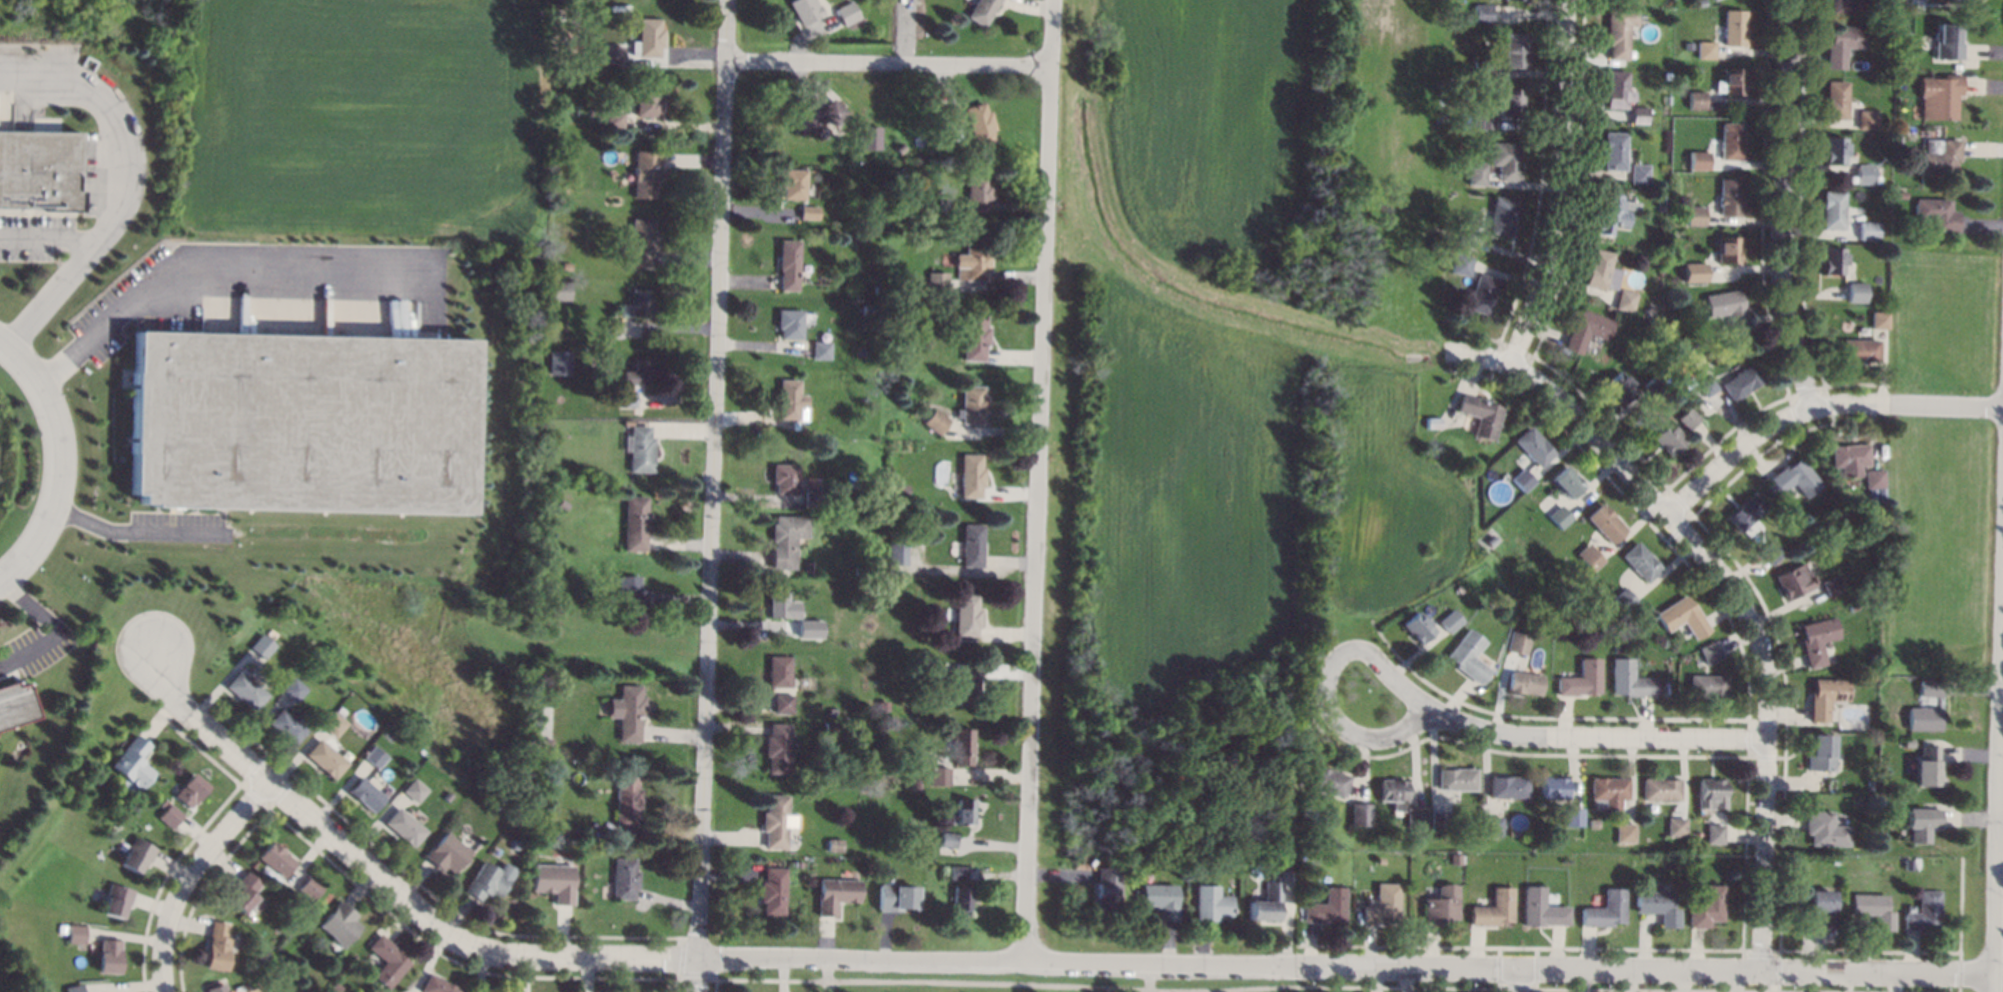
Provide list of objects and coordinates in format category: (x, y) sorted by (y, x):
building: (1526, 0)
building: (1712, 0)
building: (1947, 0)
building: (1842, 6)
building: (803, 9)
building: (981, 10)
building: (845, 12)
building: (1482, 12)
building: (1467, 17)
building: (1734, 27)
building: (1618, 30)
building: (648, 37)
building: (1947, 41)
building: (1842, 43)
building: (570, 45)
building: (1512, 49)
building: (1706, 49)
building: (1888, 51)
building: (609, 56)
road: (889, 63)
building: (1481, 68)
building: (1901, 78)
building: (1733, 80)
building: (1615, 88)
building: (1938, 95)
building: (1696, 99)
building: (1836, 99)
building: (647, 101)
building: (1511, 101)
building: (591, 110)
building: (951, 114)
building: (1638, 114)
building: (813, 115)
building: (612, 118)
building: (1866, 119)
building: (1485, 120)
road: (113, 121)
crop: (360, 121)
building: (979, 123)
building: (868, 137)
building: (1897, 137)
building: (1731, 141)
building: (898, 147)
building: (1834, 149)
building: (1613, 150)
building: (1939, 158)
building: (1698, 159)
building: (1508, 161)
building: (892, 166)
building: (38, 171)
building: (644, 172)
building: (1476, 173)
building: (1638, 173)
building: (1864, 173)
building: (792, 183)
road: (1553, 184)
building: (976, 192)
building: (1730, 197)
building: (1629, 198)
road: (1794, 204)
building: (879, 208)
building: (1832, 209)
building: (808, 212)
building: (1609, 213)
building: (1936, 214)
building: (1501, 215)
building: (1694, 215)
building: (1868, 230)
building: (1465, 234)
building: (642, 242)
building: (1728, 249)
road: (76, 257)
building: (1832, 260)
building: (971, 261)
building: (788, 263)
building: (1461, 263)
road: (212, 264)
building: (567, 265)
building: (1600, 269)
building: (1697, 272)
building: (937, 288)
building: (877, 289)
building: (561, 290)
building: (1855, 291)
building: (1481, 293)
building: (1624, 299)
building: (1681, 299)
building: (640, 302)
building: (870, 309)
building: (1728, 309)
building: (1650, 310)
building: (1879, 319)
building: (789, 323)
building: (613, 327)
building: (1586, 328)
building: (825, 335)
building: (974, 335)
building: (908, 347)
building: (819, 349)
building: (1859, 349)
building: (555, 352)
building: (1568, 353)
building: (639, 372)
building: (1741, 381)
building: (1688, 382)
building: (1705, 384)
building: (1655, 385)
building: (1620, 387)
building: (626, 398)
crop: (1231, 400)
building: (790, 402)
building: (972, 404)
road: (1816, 407)
road: (1574, 409)
building: (1479, 415)
building: (1687, 418)
building: (935, 421)
building: (301, 422)
building: (627, 422)
building: (1432, 422)
building: (1428, 436)
building: (1667, 438)
building: (1533, 445)
building: (639, 448)
building: (1849, 457)
road: (60, 461)
building: (971, 475)
building: (783, 477)
building: (1792, 478)
building: (1873, 478)
building: (1522, 479)
road: (1038, 480)
building: (1566, 481)
building: (853, 484)
building: (898, 490)
road: (711, 495)
building: (811, 496)
building: (562, 503)
building: (1745, 511)
building: (1559, 516)
building: (1605, 522)
building: (634, 523)
road: (129, 532)
building: (785, 539)
building: (1491, 540)
building: (971, 544)
building: (1771, 552)
building: (897, 553)
building: (1589, 556)
building: (1640, 561)
building: (579, 563)
building: (808, 567)
building: (862, 571)
building: (1795, 581)
building: (1832, 585)
building: (628, 593)
building: (1624, 598)
building: (781, 605)
building: (1854, 606)
building: (552, 610)
building: (966, 614)
building: (1682, 616)
building: (1449, 619)
road: (50, 627)
building: (803, 627)
building: (1417, 627)
building: (828, 630)
building: (1817, 639)
building: (1517, 642)
building: (260, 645)
building: (1617, 648)
building: (1710, 651)
building: (1467, 655)
building: (778, 671)
building: (301, 676)
building: (1869, 676)
building: (1629, 678)
building: (1580, 679)
road: (1329, 682)
building: (1523, 682)
building: (964, 683)
building: (1707, 685)
building: (1929, 688)
building: (292, 689)
building: (244, 690)
building: (1826, 696)
building: (781, 703)
building: (15, 704)
building: (831, 710)
building: (629, 712)
building: (1924, 718)
building: (331, 723)
building: (284, 725)
road: (1765, 725)
building: (828, 726)
building: (927, 726)
road: (1595, 737)
building: (1908, 742)
building: (542, 745)
building: (961, 745)
building: (776, 747)
building: (1820, 752)
building: (373, 756)
building: (323, 757)
building: (132, 762)
building: (1928, 766)
building: (941, 774)
building: (1455, 778)
building: (1328, 780)
building: (914, 783)
building: (1507, 786)
building: (1552, 786)
building: (1862, 786)
building: (1660, 788)
building: (413, 789)
building: (1711, 789)
building: (190, 790)
building: (1608, 790)
building: (1392, 792)
building: (364, 793)
building: (445, 796)
building: (626, 798)
building: (1856, 799)
building: (1880, 803)
building: (495, 804)
building: (1296, 805)
building: (963, 810)
building: (1360, 813)
building: (169, 815)
building: (1571, 816)
building: (1415, 818)
building: (1438, 819)
building: (776, 820)
building: (1593, 822)
building: (1922, 823)
building: (1491, 824)
building: (1676, 825)
building: (403, 826)
building: (1825, 828)
road: (1999, 831)
building: (1624, 832)
building: (1715, 833)
building: (586, 836)
building: (947, 839)
building: (1332, 840)
building: (514, 843)
building: (834, 844)
building: (445, 852)
building: (532, 852)
building: (137, 854)
building: (1332, 854)
building: (274, 858)
building: (1455, 858)
building: (1835, 859)
building: (799, 864)
building: (1908, 864)
building: (932, 867)
building: (957, 872)
building: (624, 877)
road: (190, 878)
building: (485, 880)
building: (553, 880)
building: (308, 888)
building: (773, 888)
building: (240, 891)
building: (1107, 891)
building: (835, 893)
building: (1303, 895)
building: (895, 897)
building: (961, 897)
building: (115, 899)
building: (1160, 899)
building: (1267, 901)
building: (587, 902)
building: (1210, 903)
building: (1384, 904)
building: (1442, 904)
building: (1328, 906)
building: (1657, 906)
building: (1706, 907)
building: (1494, 908)
building: (1541, 908)
building: (1819, 908)
building: (1873, 908)
building: (1604, 909)
building: (1924, 911)
building: (286, 920)
building: (338, 923)
building: (61, 928)
building: (76, 933)
building: (215, 946)
building: (109, 956)
building: (386, 960)
road: (1013, 960)
park: (1043, 982)
road: (1522, 982)
building: (305, 984)
building: (436, 985)
road: (1149, 985)
building: (333, 986)
building: (74, 988)
building: (215, 988)

